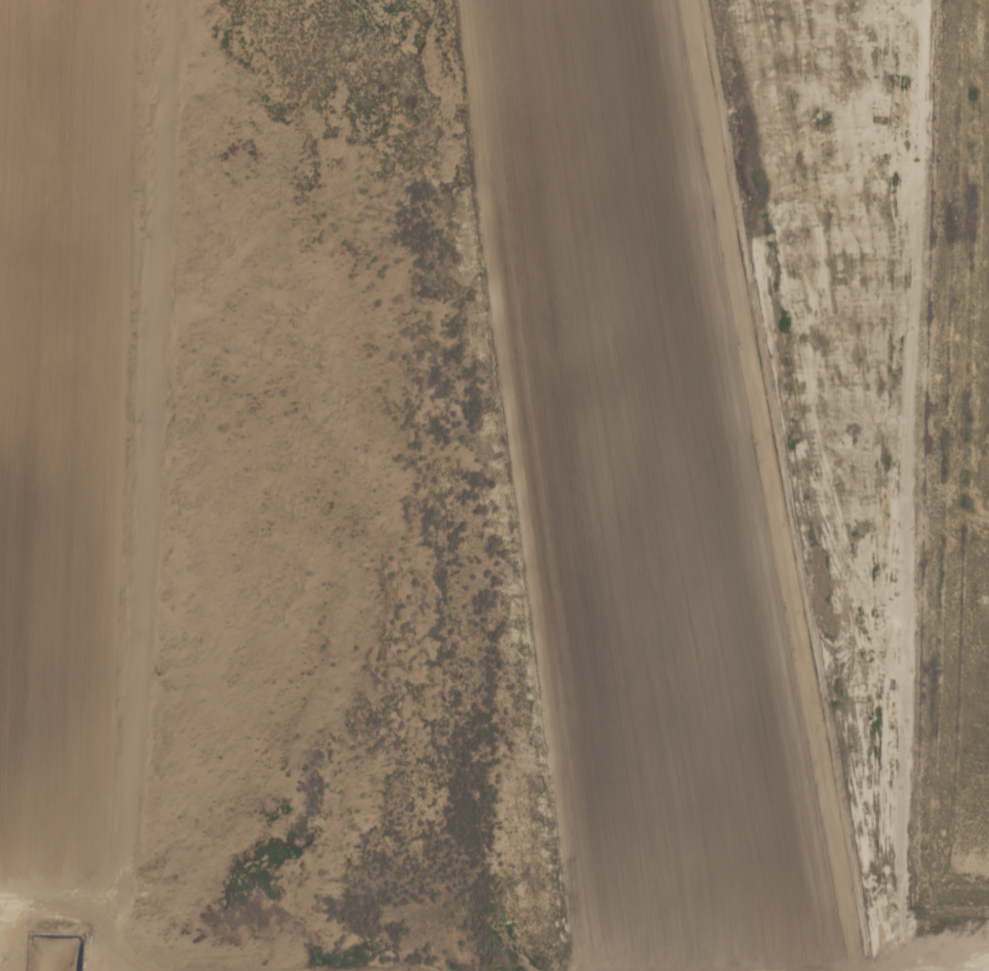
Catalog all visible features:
landfill: (57, 437)
landfill: (639, 503)

